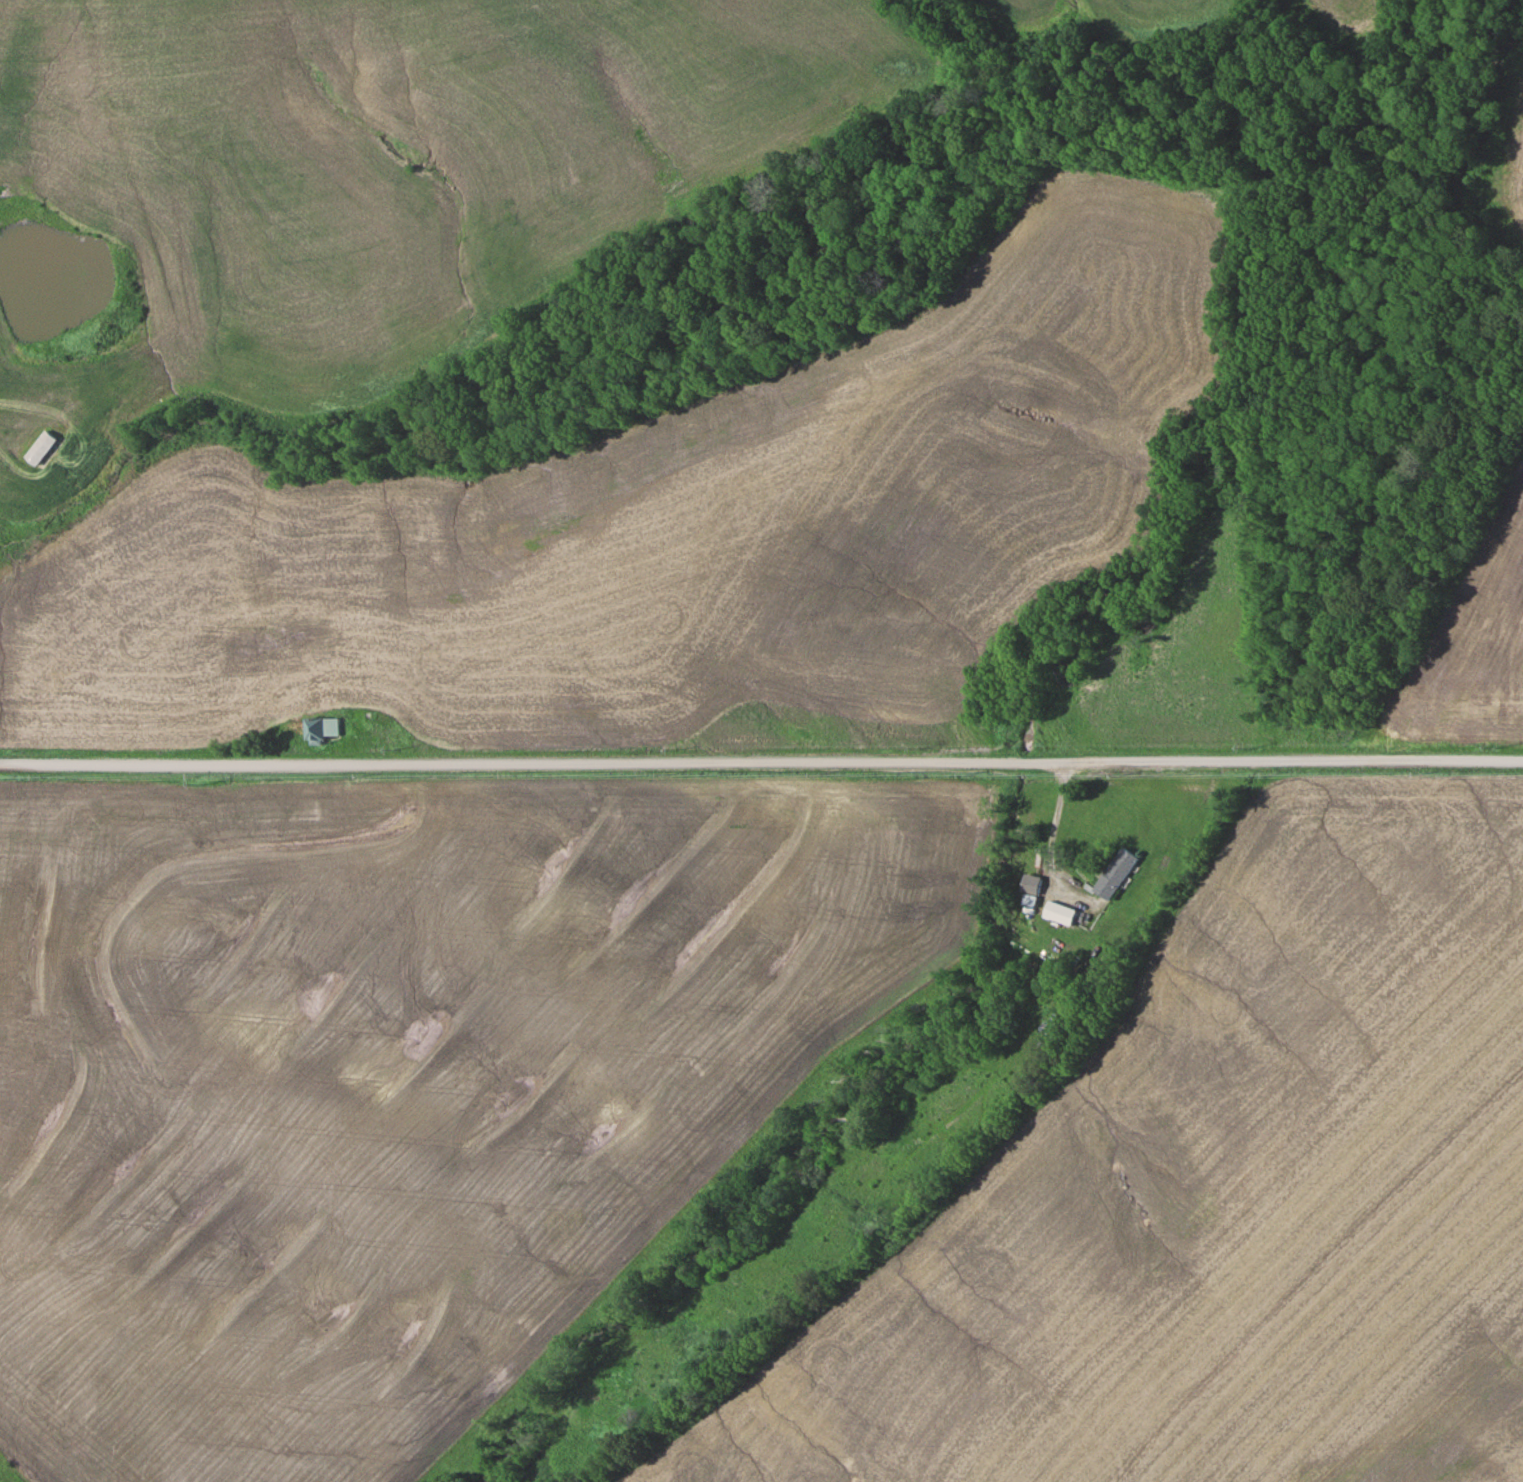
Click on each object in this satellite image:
building: (39, 447)
crop: (1470, 634)
building: (320, 728)
road: (761, 762)
building: (1115, 873)
building: (1029, 884)
building: (1069, 915)
crop: (399, 1075)

